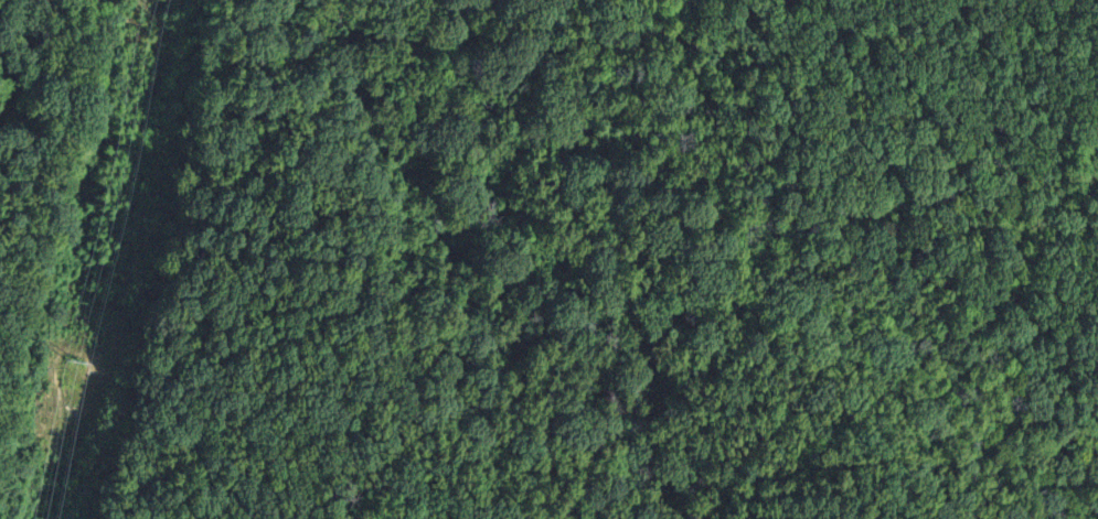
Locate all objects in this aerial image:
power tower: (68, 356)

